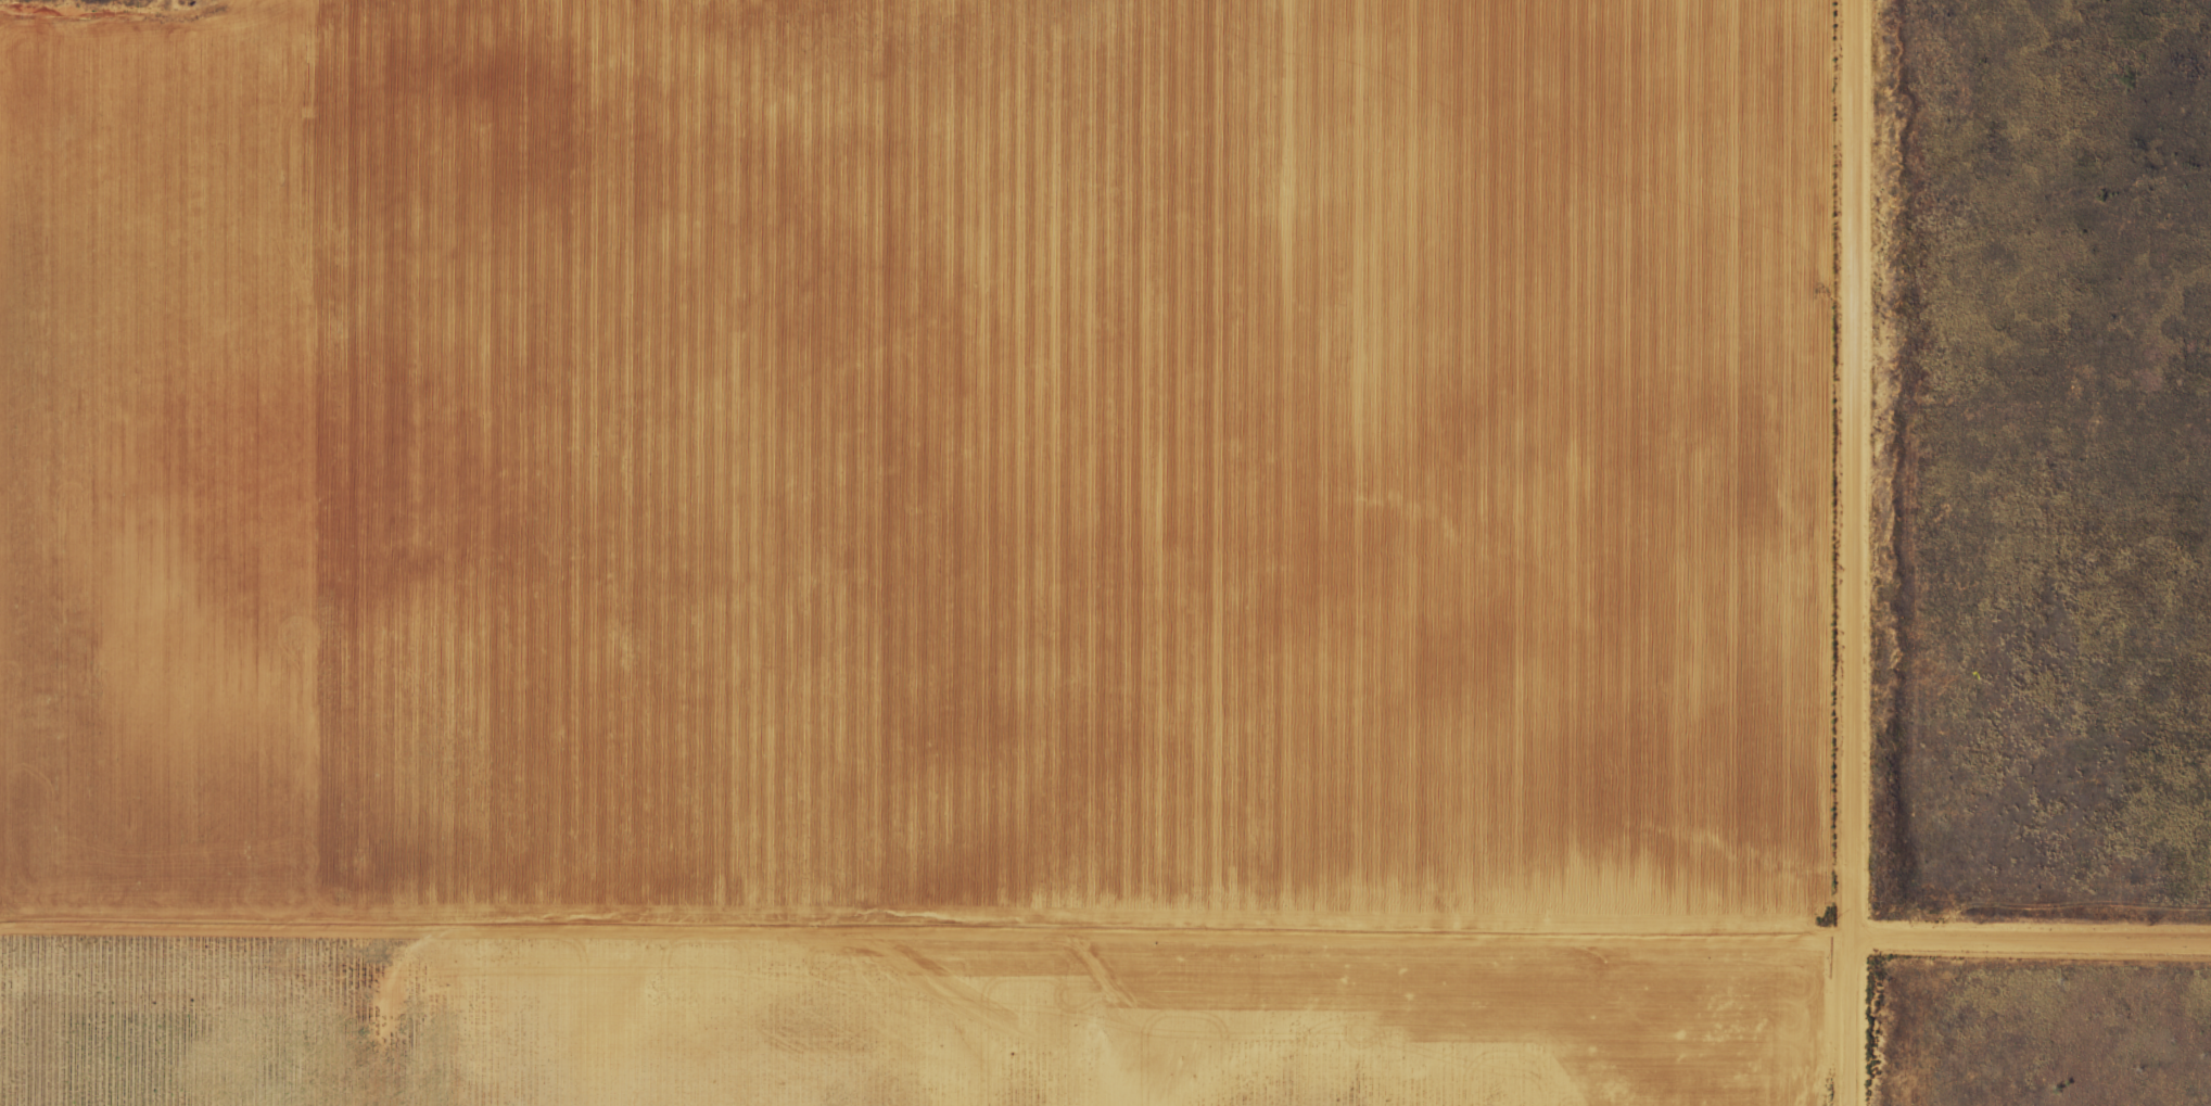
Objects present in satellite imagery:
road: (1896, 552)
road: (1104, 941)

